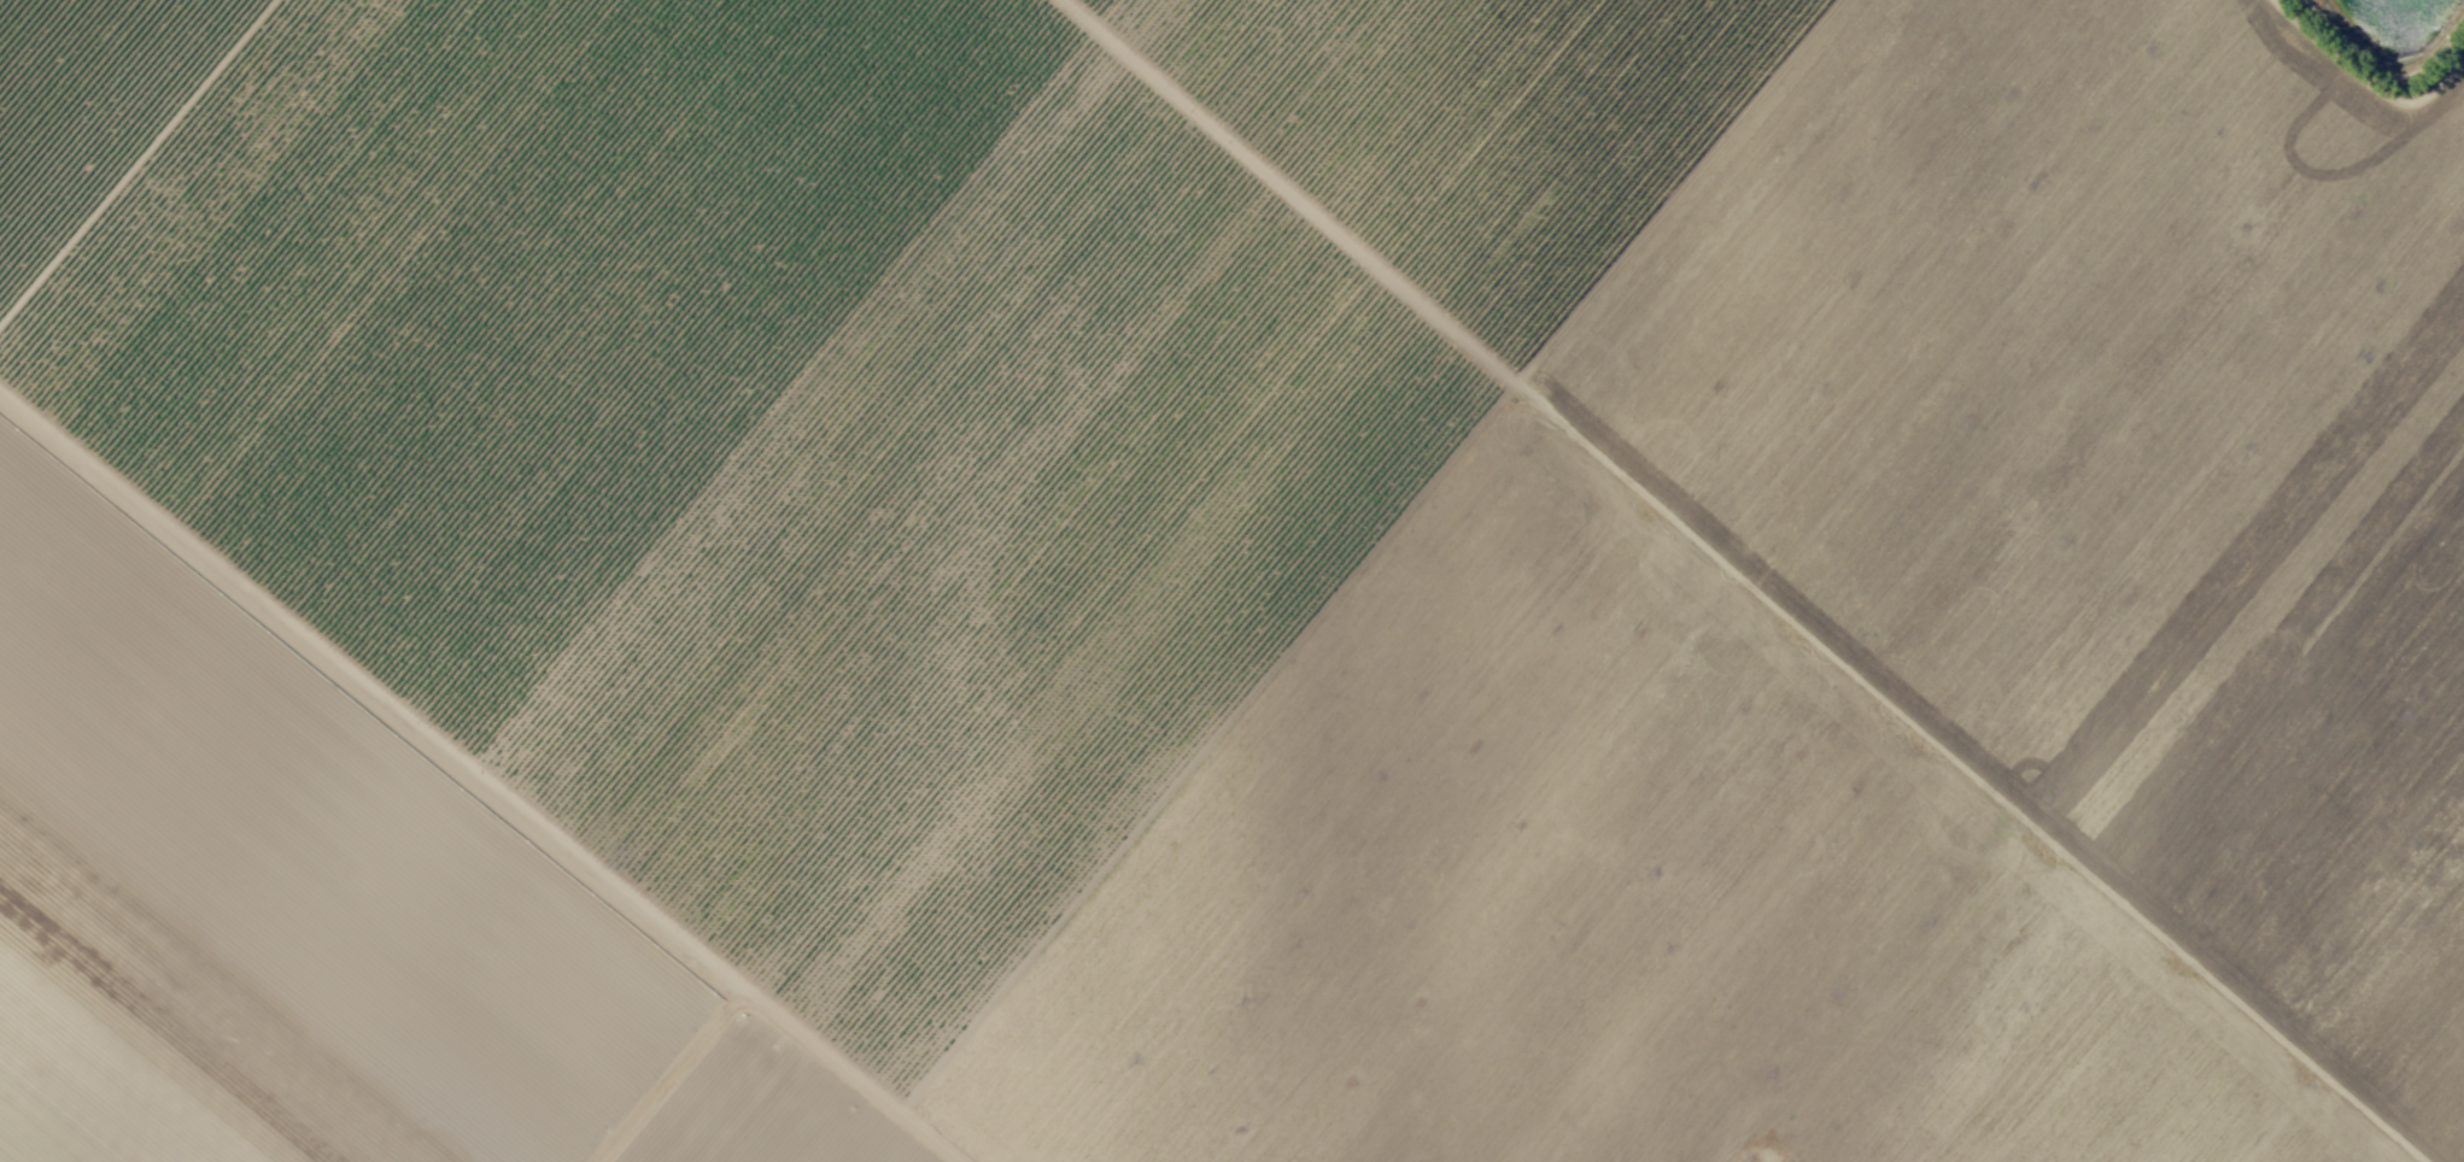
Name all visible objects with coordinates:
wastewater plant: (2406, 16)
road: (136, 162)
crop: (1231, 581)
road: (1745, 581)
road: (480, 779)
road: (663, 1073)

